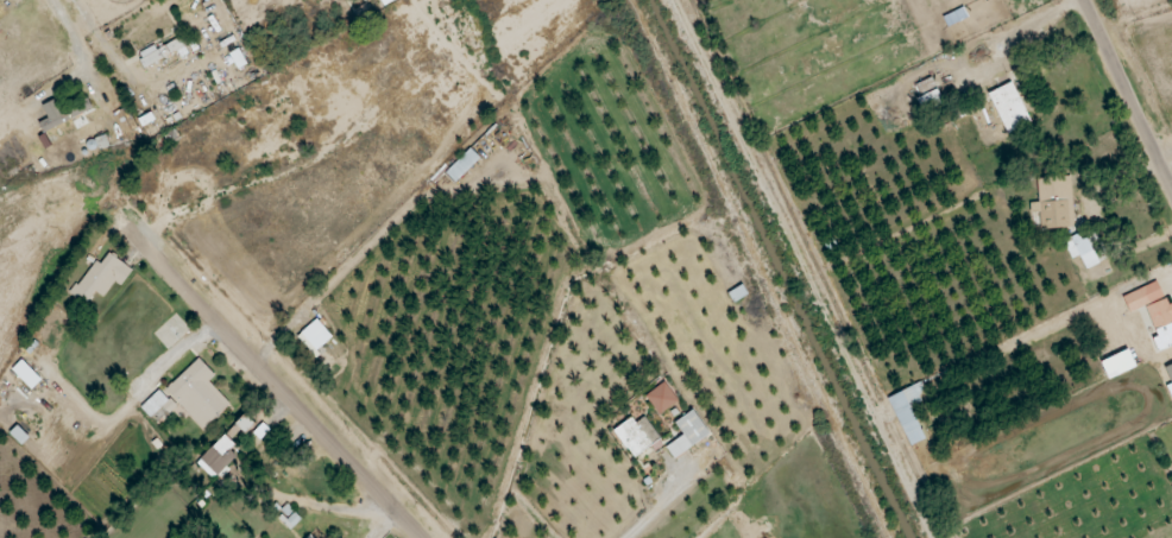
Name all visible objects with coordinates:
building: (383, 1)
building: (159, 52)
road: (1128, 94)
building: (927, 95)
building: (1008, 108)
building: (62, 113)
road: (1164, 152)
building: (461, 165)
building: (1054, 203)
building: (1079, 249)
building: (100, 278)
building: (1153, 312)
building: (316, 344)
building: (1117, 365)
building: (1168, 372)
building: (25, 374)
road: (273, 381)
building: (197, 394)
building: (661, 398)
building: (157, 406)
building: (907, 412)
building: (244, 423)
building: (687, 435)
building: (636, 436)
building: (218, 456)
road: (657, 505)
building: (309, 537)

